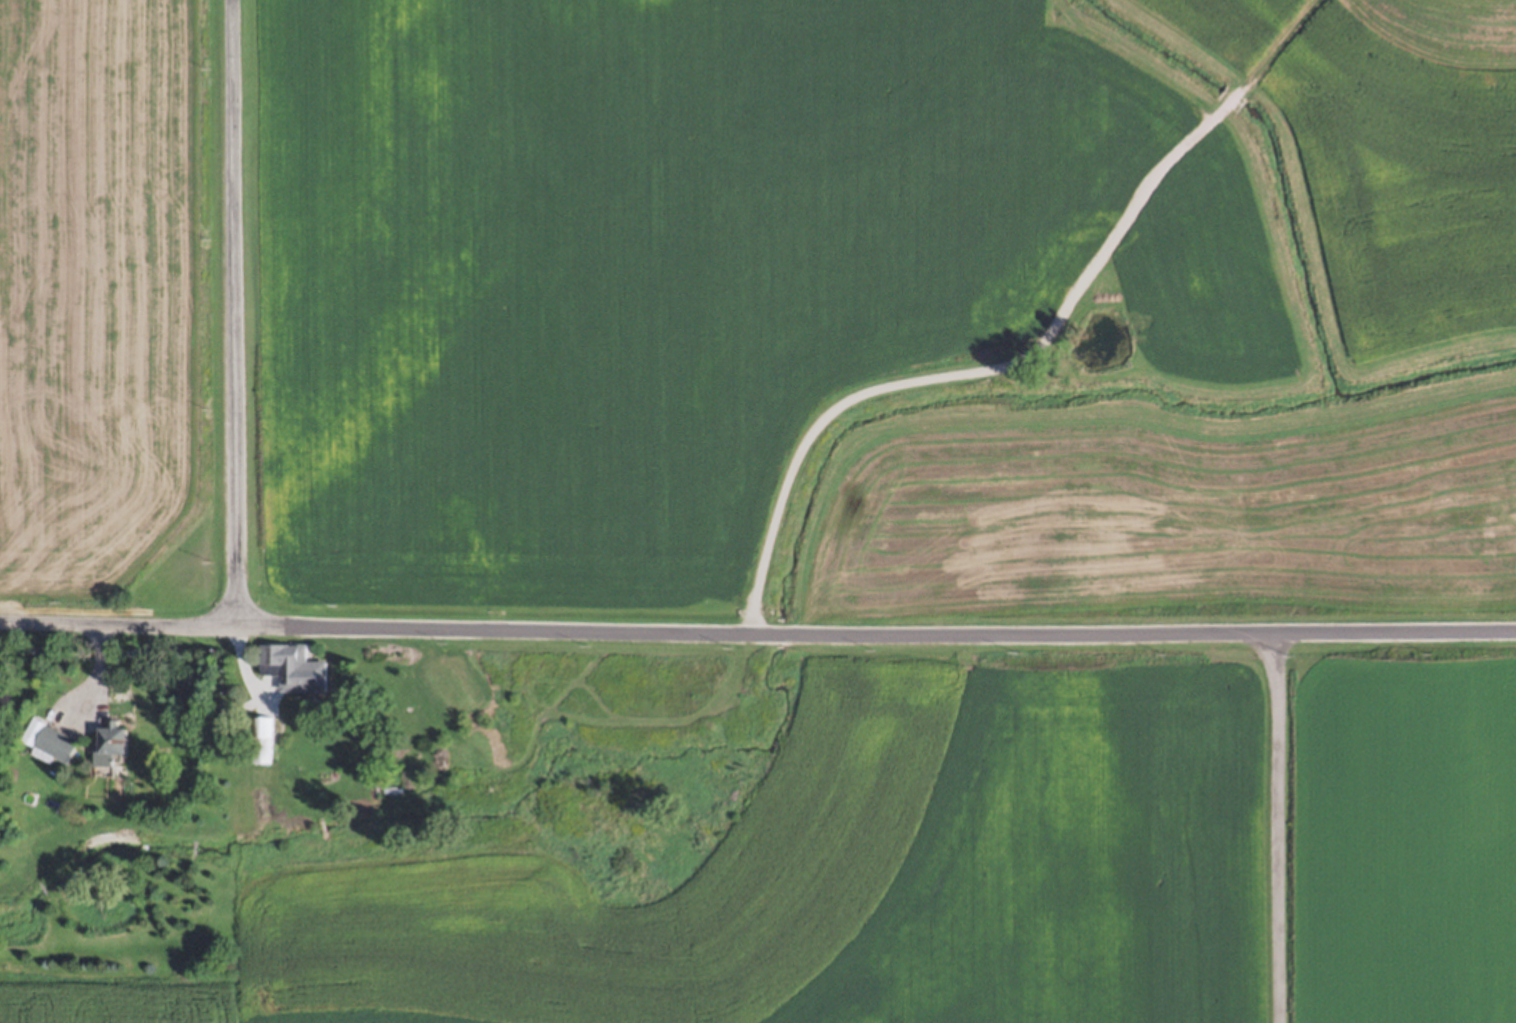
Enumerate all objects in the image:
road: (228, 314)
road: (758, 630)
building: (297, 669)
building: (58, 745)
building: (117, 745)
road: (1277, 827)

